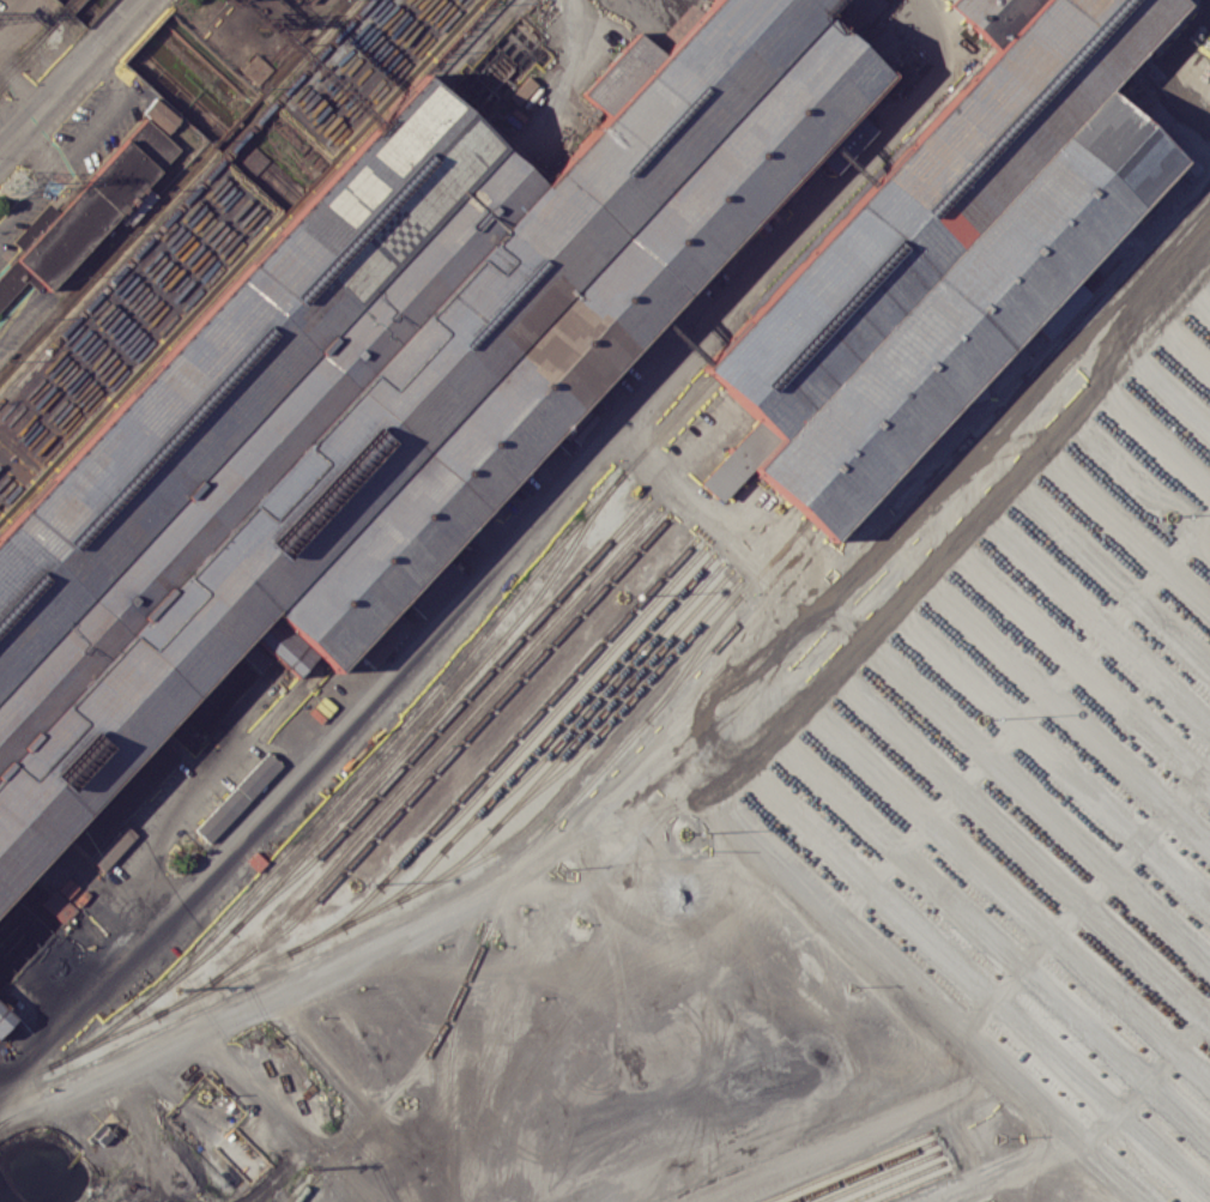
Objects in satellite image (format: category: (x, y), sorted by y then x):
railway: (38, 41)
railway: (28, 48)
road: (1151, 62)
building: (256, 68)
road: (110, 73)
road: (74, 80)
building: (521, 90)
building: (161, 113)
road: (93, 126)
road: (41, 149)
road: (29, 193)
railway: (186, 200)
building: (96, 203)
building: (948, 253)
road: (1126, 279)
building: (382, 388)
road: (1034, 391)
road: (1018, 561)
building: (435, 588)
railway: (692, 657)
road: (743, 657)
railway: (452, 708)
railway: (586, 709)
railway: (619, 709)
railway: (545, 719)
railway: (393, 737)
railway: (570, 744)
railway: (440, 747)
railway: (534, 749)
railway: (500, 751)
railway: (394, 756)
railway: (425, 779)
building: (237, 797)
road: (960, 870)
railway: (452, 874)
railway: (458, 887)
railway: (442, 1025)
railway: (449, 1063)
road: (278, 1116)
railway: (843, 1166)
railway: (863, 1171)
railway: (879, 1177)
railway: (895, 1182)
railway: (914, 1188)
road: (362, 1192)
railway: (301, 1194)

